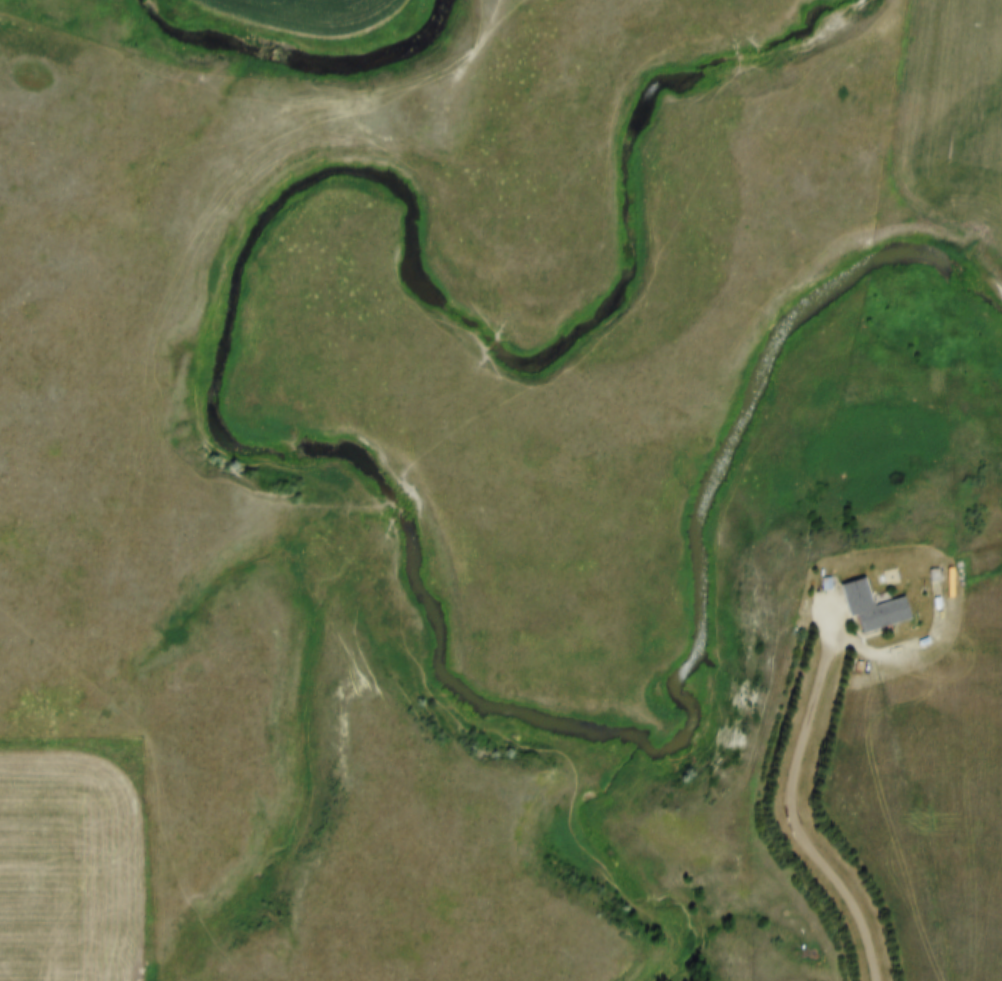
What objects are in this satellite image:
building: (875, 599)
road: (791, 812)

